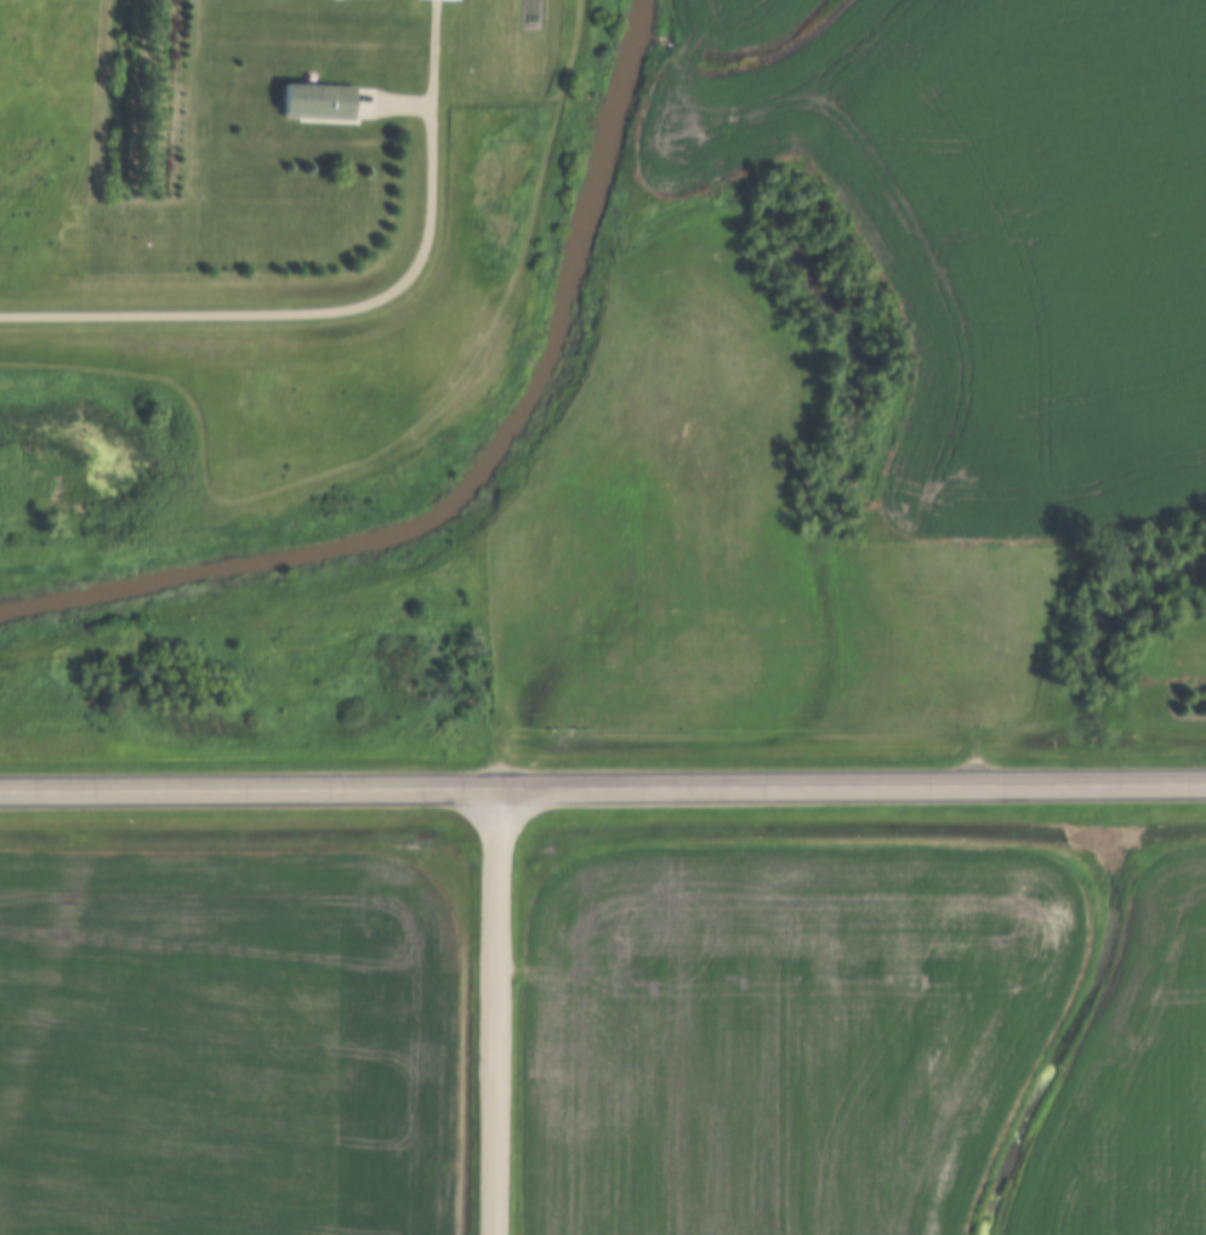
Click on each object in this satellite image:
crop: (741, 19)
building: (319, 97)
crop: (1005, 241)
road: (325, 309)
road: (848, 785)
road: (245, 787)
road: (490, 1011)
crop: (778, 1035)
crop: (224, 1042)
crop: (1134, 1080)

